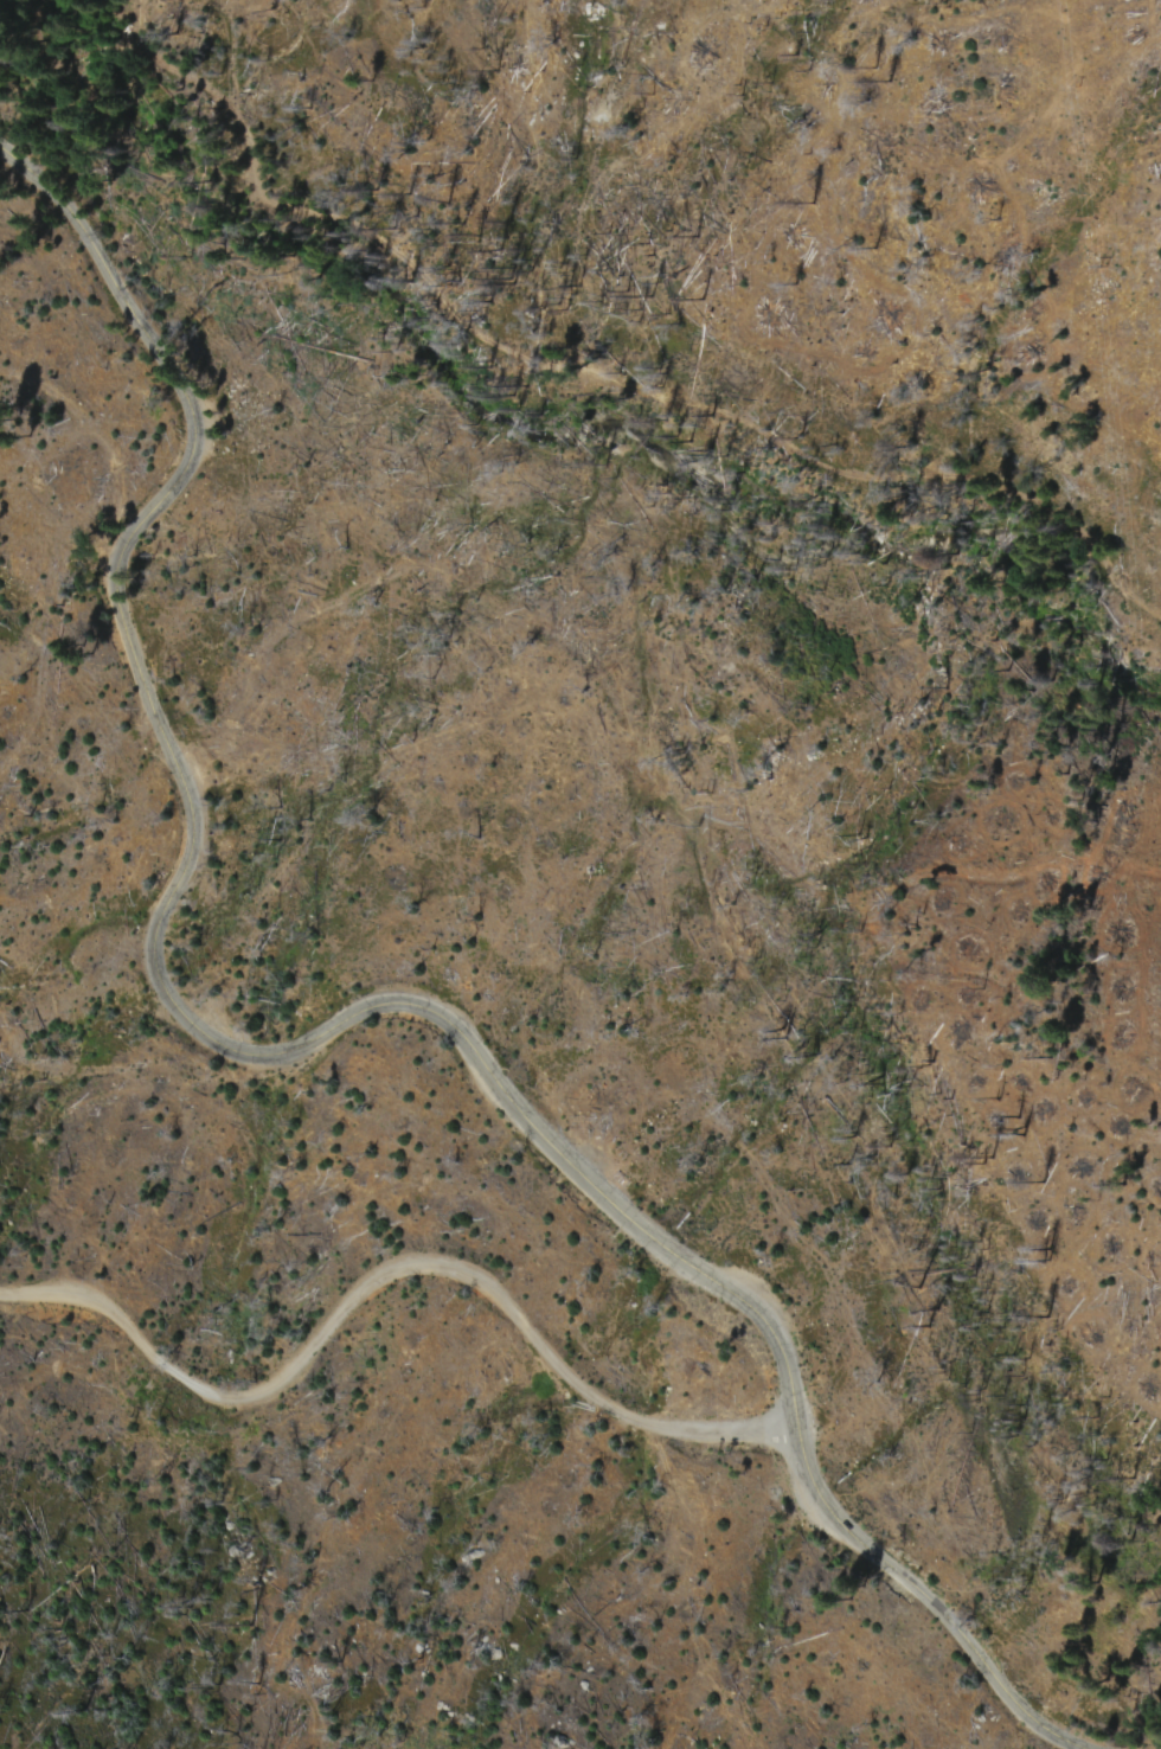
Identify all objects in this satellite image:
road: (309, 223)
road: (315, 1037)
road: (390, 1263)
park: (24, 1484)

